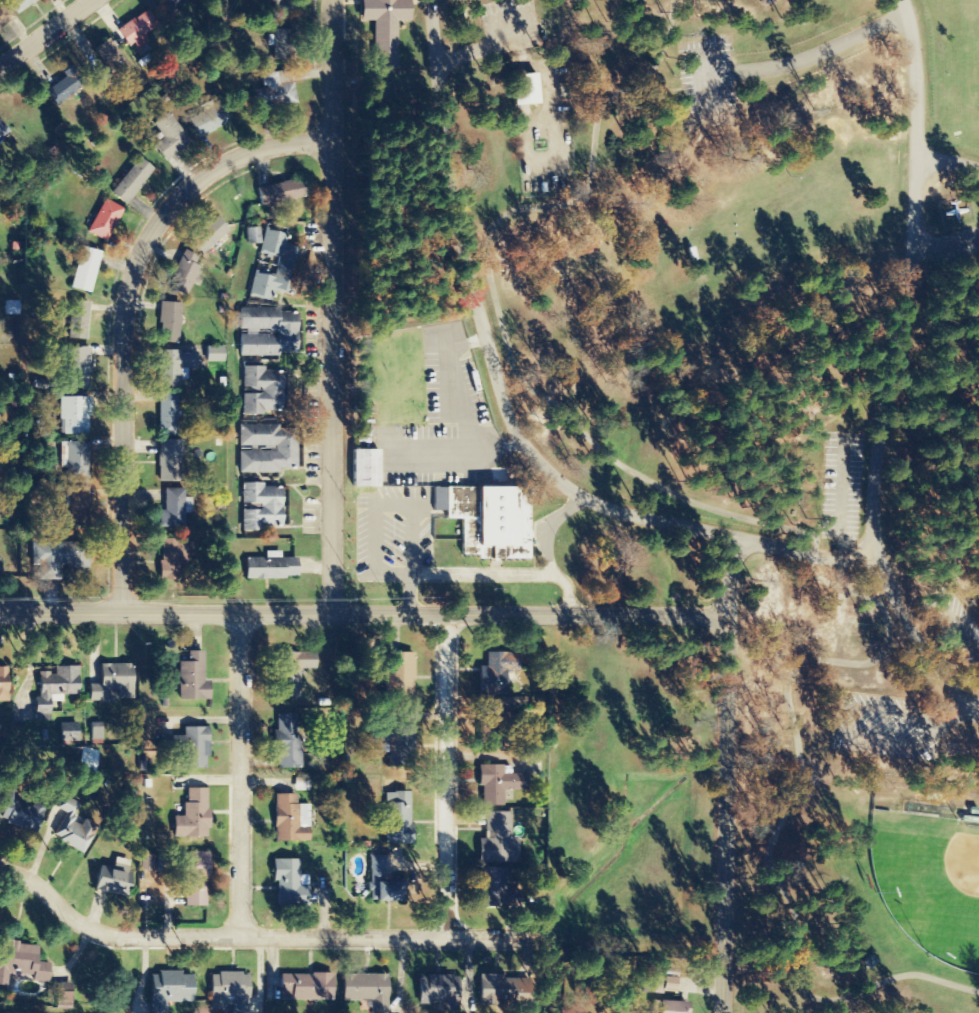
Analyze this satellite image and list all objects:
building: (19, 5)
building: (289, 8)
building: (4, 15)
building: (387, 27)
building: (137, 30)
road: (44, 32)
building: (286, 45)
road: (821, 47)
building: (111, 65)
building: (69, 85)
building: (523, 90)
building: (274, 95)
building: (211, 121)
building: (3, 133)
building: (169, 138)
road: (947, 161)
building: (132, 181)
building: (280, 193)
building: (105, 221)
building: (252, 235)
building: (206, 236)
building: (277, 267)
building: (85, 270)
building: (184, 274)
road: (902, 281)
road: (327, 305)
building: (10, 308)
road: (123, 315)
building: (77, 320)
building: (168, 324)
road: (503, 325)
building: (285, 332)
building: (214, 355)
building: (78, 367)
building: (173, 367)
building: (260, 391)
park: (701, 407)
building: (75, 415)
building: (169, 415)
building: (286, 448)
building: (77, 461)
building: (170, 461)
building: (363, 468)
road: (553, 476)
building: (78, 506)
building: (260, 507)
building: (173, 510)
building: (489, 521)
building: (61, 560)
building: (170, 560)
building: (0, 566)
building: (269, 569)
road: (164, 612)
road: (370, 612)
road: (562, 613)
building: (292, 673)
building: (399, 676)
building: (112, 682)
building: (192, 682)
building: (3, 686)
building: (56, 686)
building: (495, 728)
building: (69, 732)
building: (286, 741)
building: (403, 741)
building: (194, 747)
building: (86, 761)
road: (241, 771)
road: (444, 774)
building: (497, 784)
building: (302, 785)
road: (784, 807)
road: (725, 813)
building: (21, 815)
building: (193, 815)
building: (397, 818)
building: (290, 820)
building: (73, 836)
building: (498, 840)
building: (194, 879)
park: (929, 881)
building: (380, 883)
building: (289, 884)
road: (264, 930)
building: (20, 963)
building: (667, 984)
building: (61, 987)
building: (306, 987)
building: (169, 990)
building: (365, 990)
building: (436, 991)
building: (229, 992)
building: (62, 1001)
building: (670, 1007)

